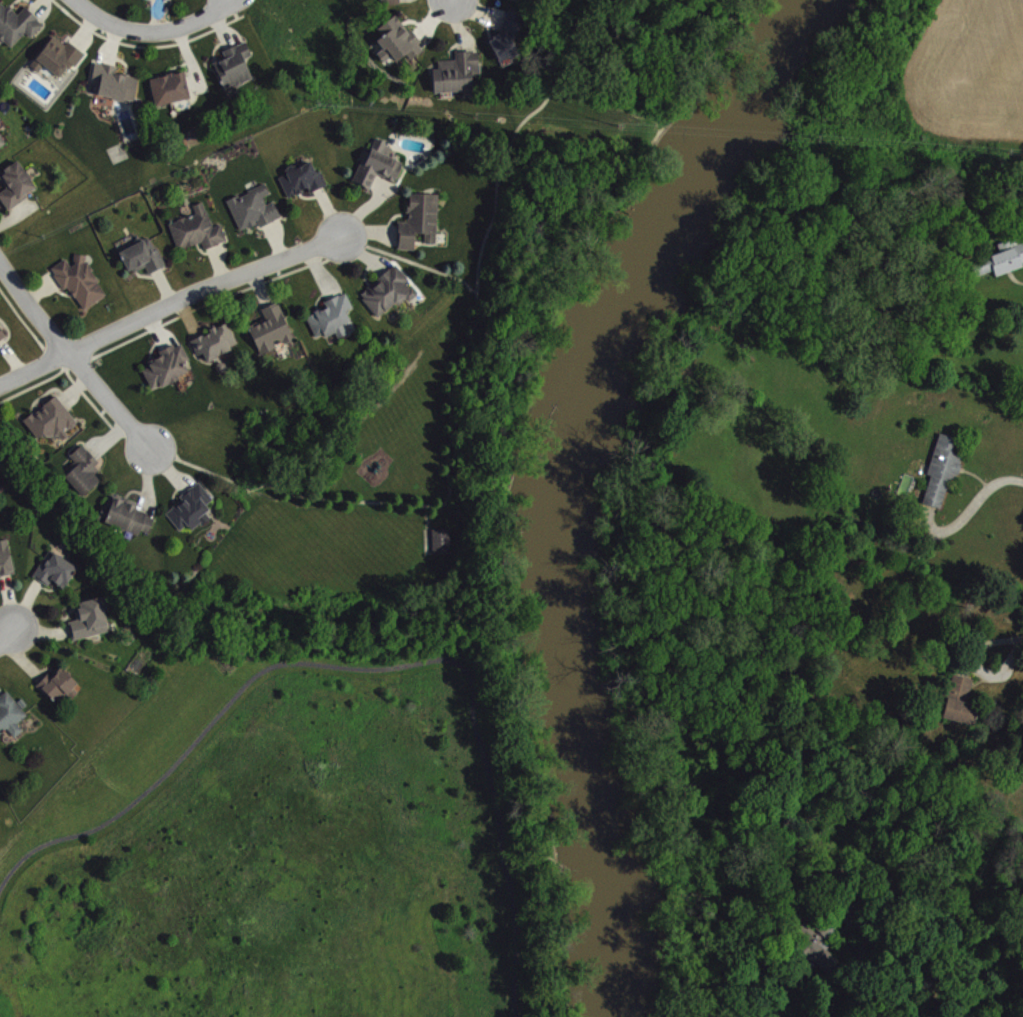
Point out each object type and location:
building: (391, 1)
road: (454, 1)
building: (18, 22)
road: (150, 28)
building: (508, 36)
building: (60, 56)
building: (236, 64)
building: (459, 71)
crop: (966, 73)
building: (116, 81)
building: (172, 87)
building: (2, 140)
building: (379, 164)
building: (305, 178)
building: (18, 183)
building: (256, 207)
building: (421, 219)
building: (199, 228)
road: (479, 254)
building: (145, 255)
building: (999, 255)
building: (82, 280)
building: (389, 290)
road: (206, 302)
road: (166, 306)
building: (333, 316)
road: (21, 318)
building: (273, 328)
building: (2, 332)
building: (217, 340)
road: (71, 360)
building: (169, 365)
road: (64, 367)
building: (53, 418)
road: (450, 418)
building: (0, 455)
building: (940, 465)
building: (85, 469)
river: (567, 479)
road: (287, 489)
building: (192, 508)
road: (964, 511)
building: (128, 513)
building: (439, 539)
building: (4, 556)
building: (53, 567)
road: (3, 584)
road: (47, 587)
road: (8, 599)
road: (25, 602)
building: (87, 616)
road: (64, 617)
road: (7, 624)
road: (41, 630)
road: (6, 633)
road: (982, 642)
road: (20, 657)
road: (368, 666)
road: (43, 667)
road: (995, 669)
building: (56, 684)
building: (957, 697)
building: (10, 711)
building: (822, 940)
road: (863, 970)

